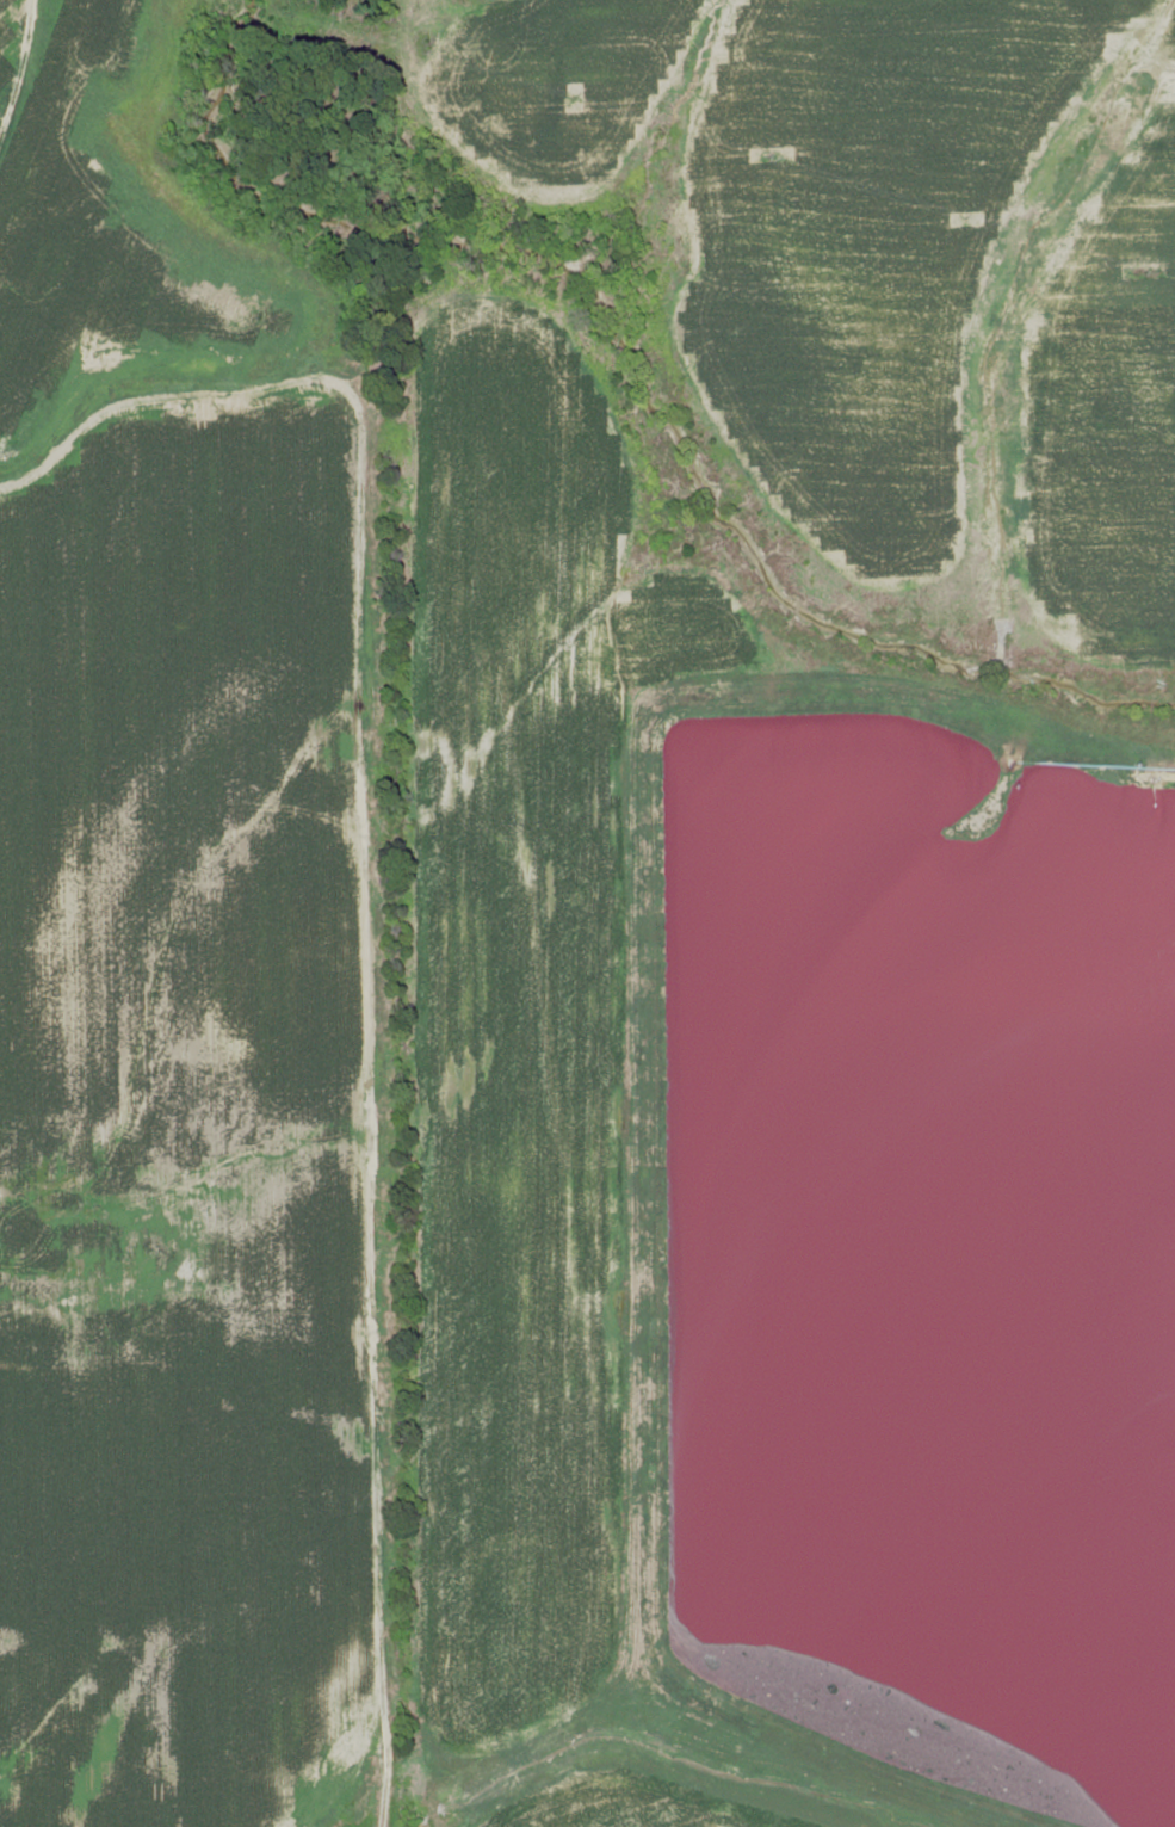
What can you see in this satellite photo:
road: (390, 1635)

